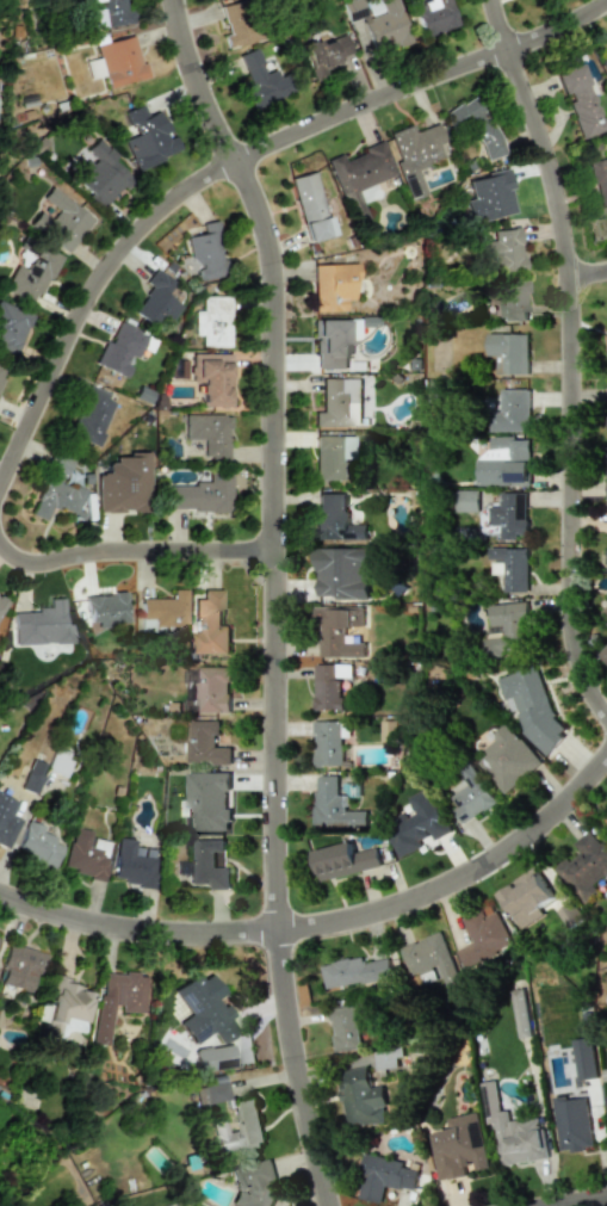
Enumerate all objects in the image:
building: (109, 12)
building: (433, 16)
building: (235, 24)
building: (382, 24)
building: (327, 54)
building: (116, 62)
building: (603, 63)
building: (260, 80)
building: (577, 99)
building: (475, 124)
building: (147, 136)
building: (417, 153)
road: (230, 160)
building: (101, 174)
building: (359, 175)
building: (599, 180)
building: (488, 197)
building: (309, 206)
building: (60, 221)
building: (503, 249)
building: (204, 252)
road: (583, 274)
building: (31, 276)
building: (332, 285)
building: (510, 297)
building: (155, 302)
building: (212, 322)
building: (12, 327)
building: (606, 342)
building: (332, 344)
building: (120, 348)
building: (508, 352)
road: (563, 360)
building: (435, 391)
building: (339, 403)
building: (510, 413)
building: (91, 416)
building: (209, 434)
building: (332, 457)
building: (504, 463)
building: (606, 480)
building: (123, 486)
building: (56, 493)
building: (203, 494)
building: (465, 501)
building: (508, 515)
building: (334, 519)
road: (132, 552)
building: (606, 561)
building: (510, 567)
building: (343, 573)
road: (270, 595)
building: (2, 605)
building: (106, 610)
building: (605, 611)
building: (163, 613)
building: (606, 624)
building: (42, 625)
building: (210, 625)
building: (508, 626)
building: (337, 631)
building: (605, 654)
building: (328, 686)
building: (206, 689)
building: (532, 706)
building: (327, 743)
building: (205, 744)
building: (508, 759)
building: (58, 762)
building: (32, 777)
building: (471, 797)
building: (206, 802)
building: (333, 804)
building: (605, 821)
building: (7, 822)
building: (416, 824)
building: (41, 843)
building: (85, 854)
building: (343, 860)
building: (586, 862)
building: (132, 865)
building: (205, 865)
building: (526, 898)
road: (328, 924)
building: (483, 936)
building: (428, 957)
building: (19, 966)
building: (606, 967)
building: (355, 972)
building: (117, 1000)
building: (66, 1008)
building: (204, 1009)
building: (520, 1013)
building: (343, 1027)
building: (213, 1058)
building: (584, 1058)
building: (211, 1094)
building: (361, 1099)
building: (572, 1124)
building: (239, 1128)
building: (513, 1131)
building: (460, 1148)
building: (383, 1177)
building: (255, 1186)
road: (575, 1201)

